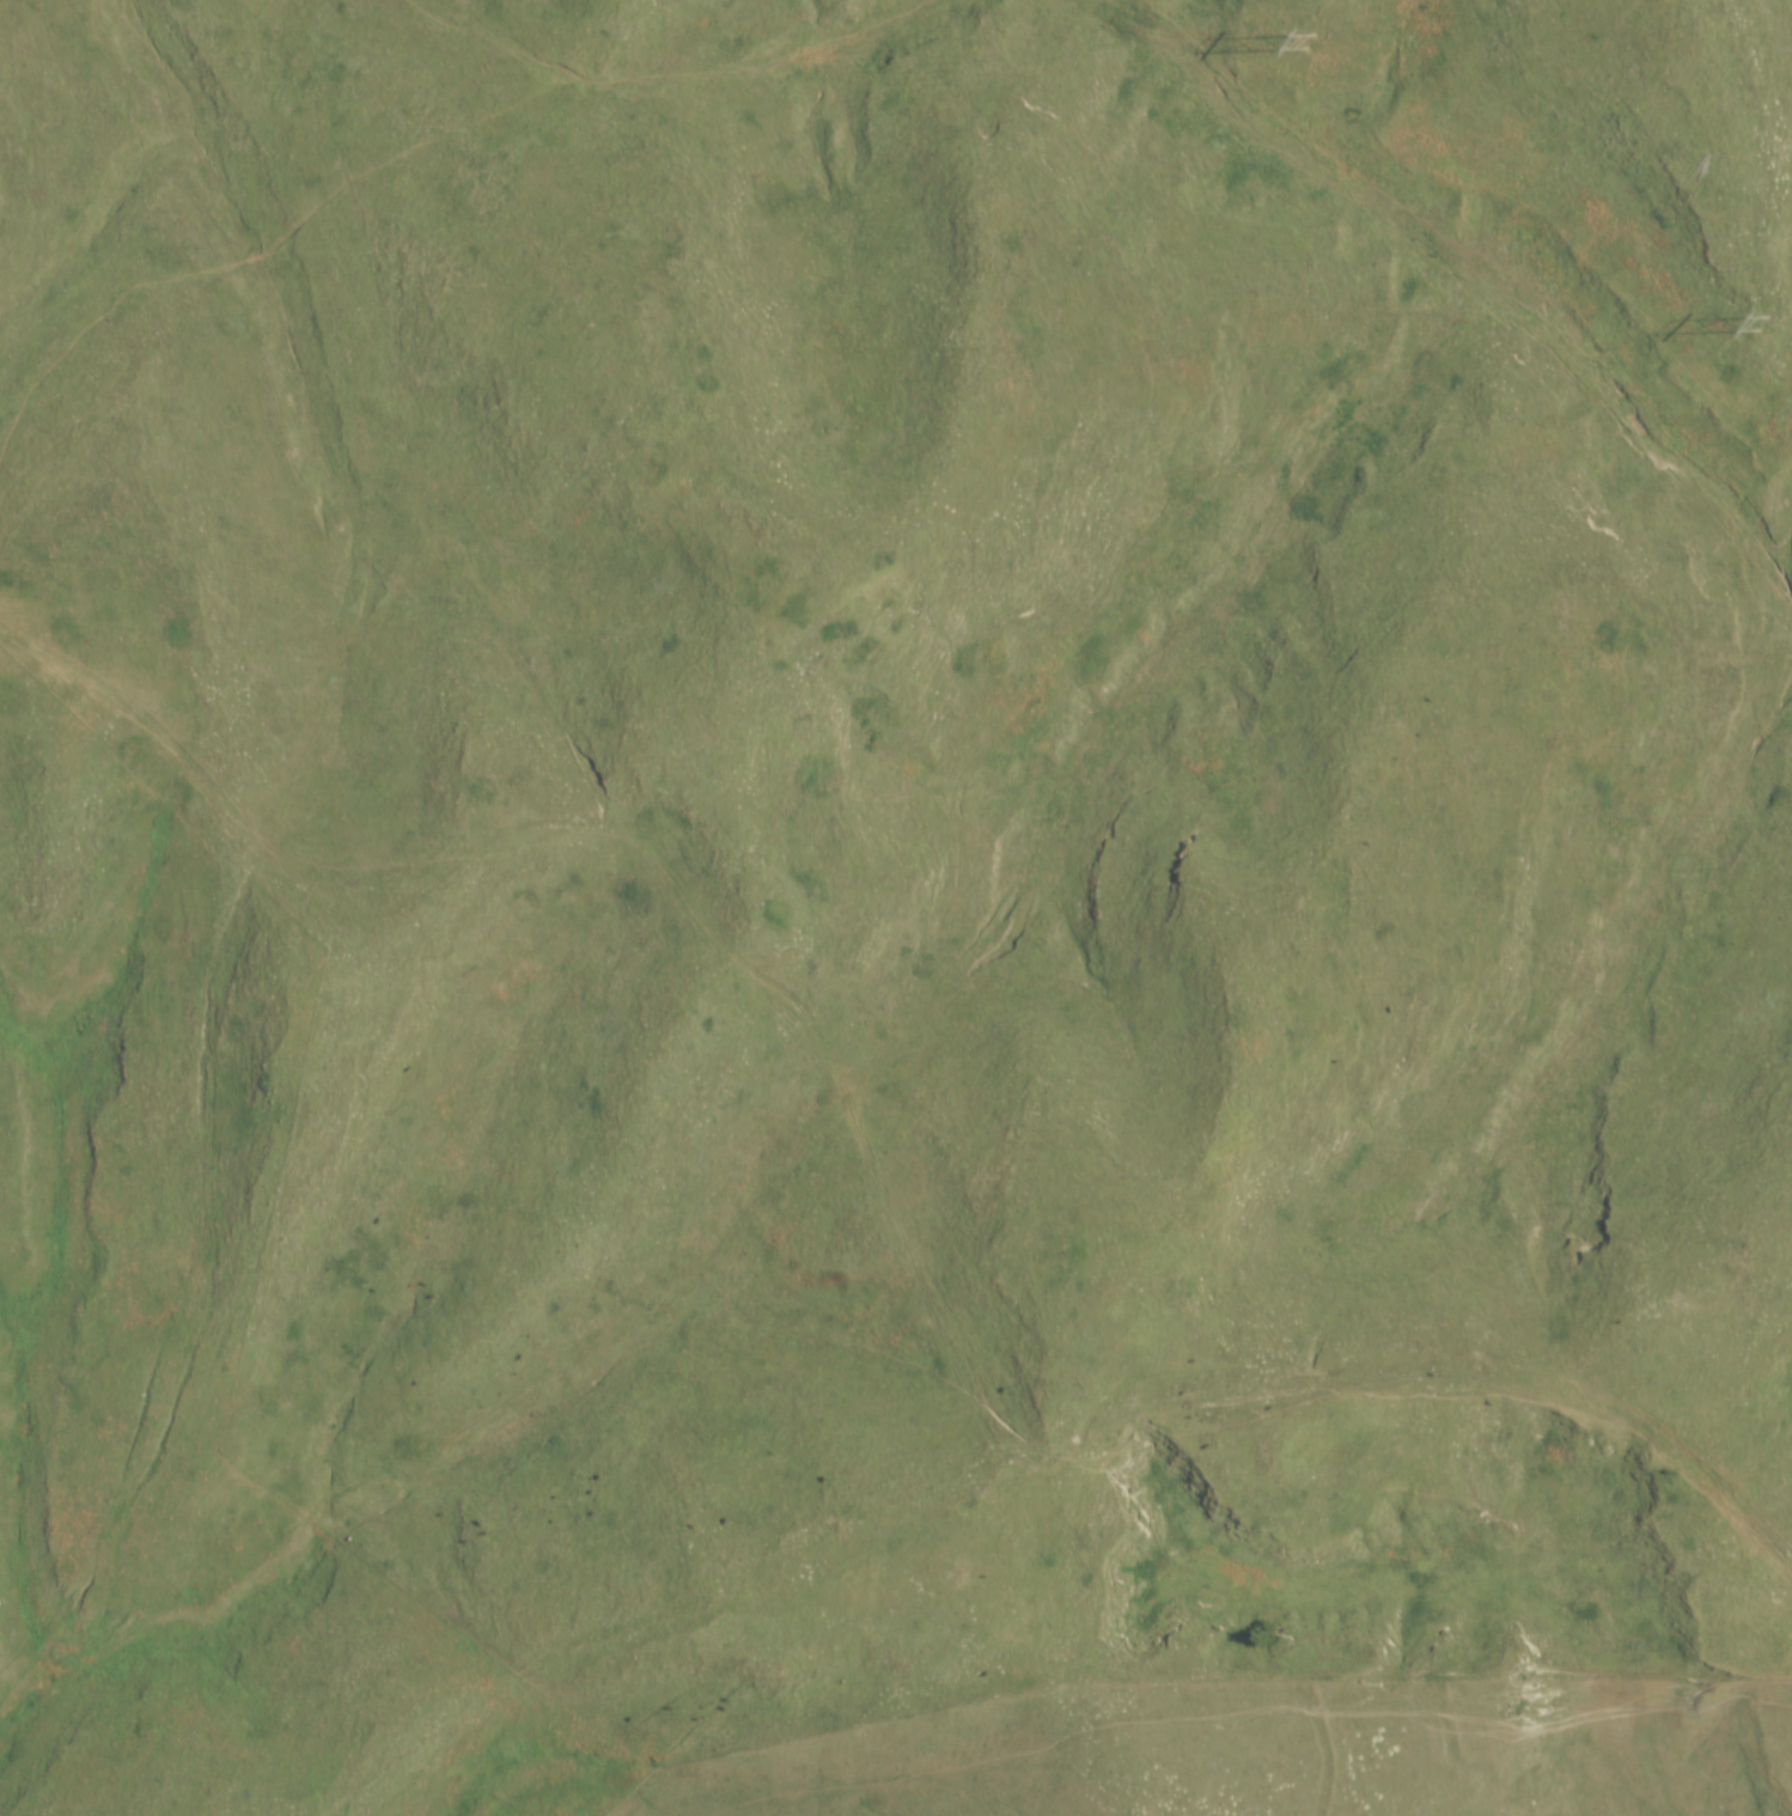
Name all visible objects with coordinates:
power tower: (1306, 38)
power tower: (1761, 323)

